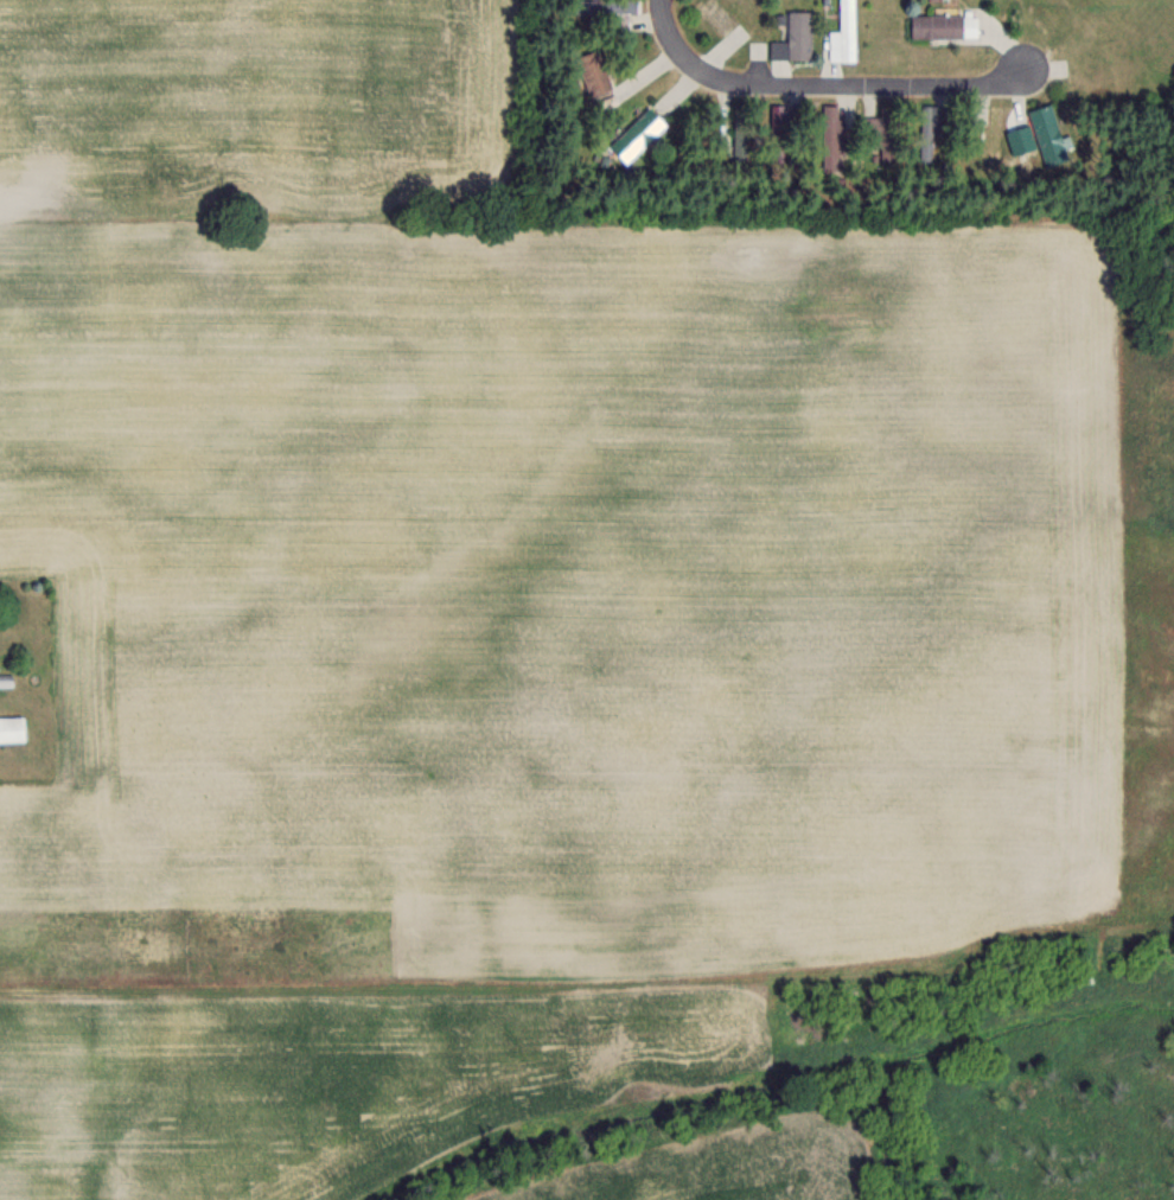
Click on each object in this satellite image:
building: (604, 6)
building: (716, 15)
building: (940, 25)
building: (843, 33)
building: (793, 37)
building: (593, 71)
road: (823, 79)
building: (777, 111)
building: (993, 132)
building: (1045, 132)
building: (637, 133)
building: (881, 134)
building: (829, 136)
building: (1023, 140)
building: (925, 141)
building: (776, 148)
building: (11, 728)

